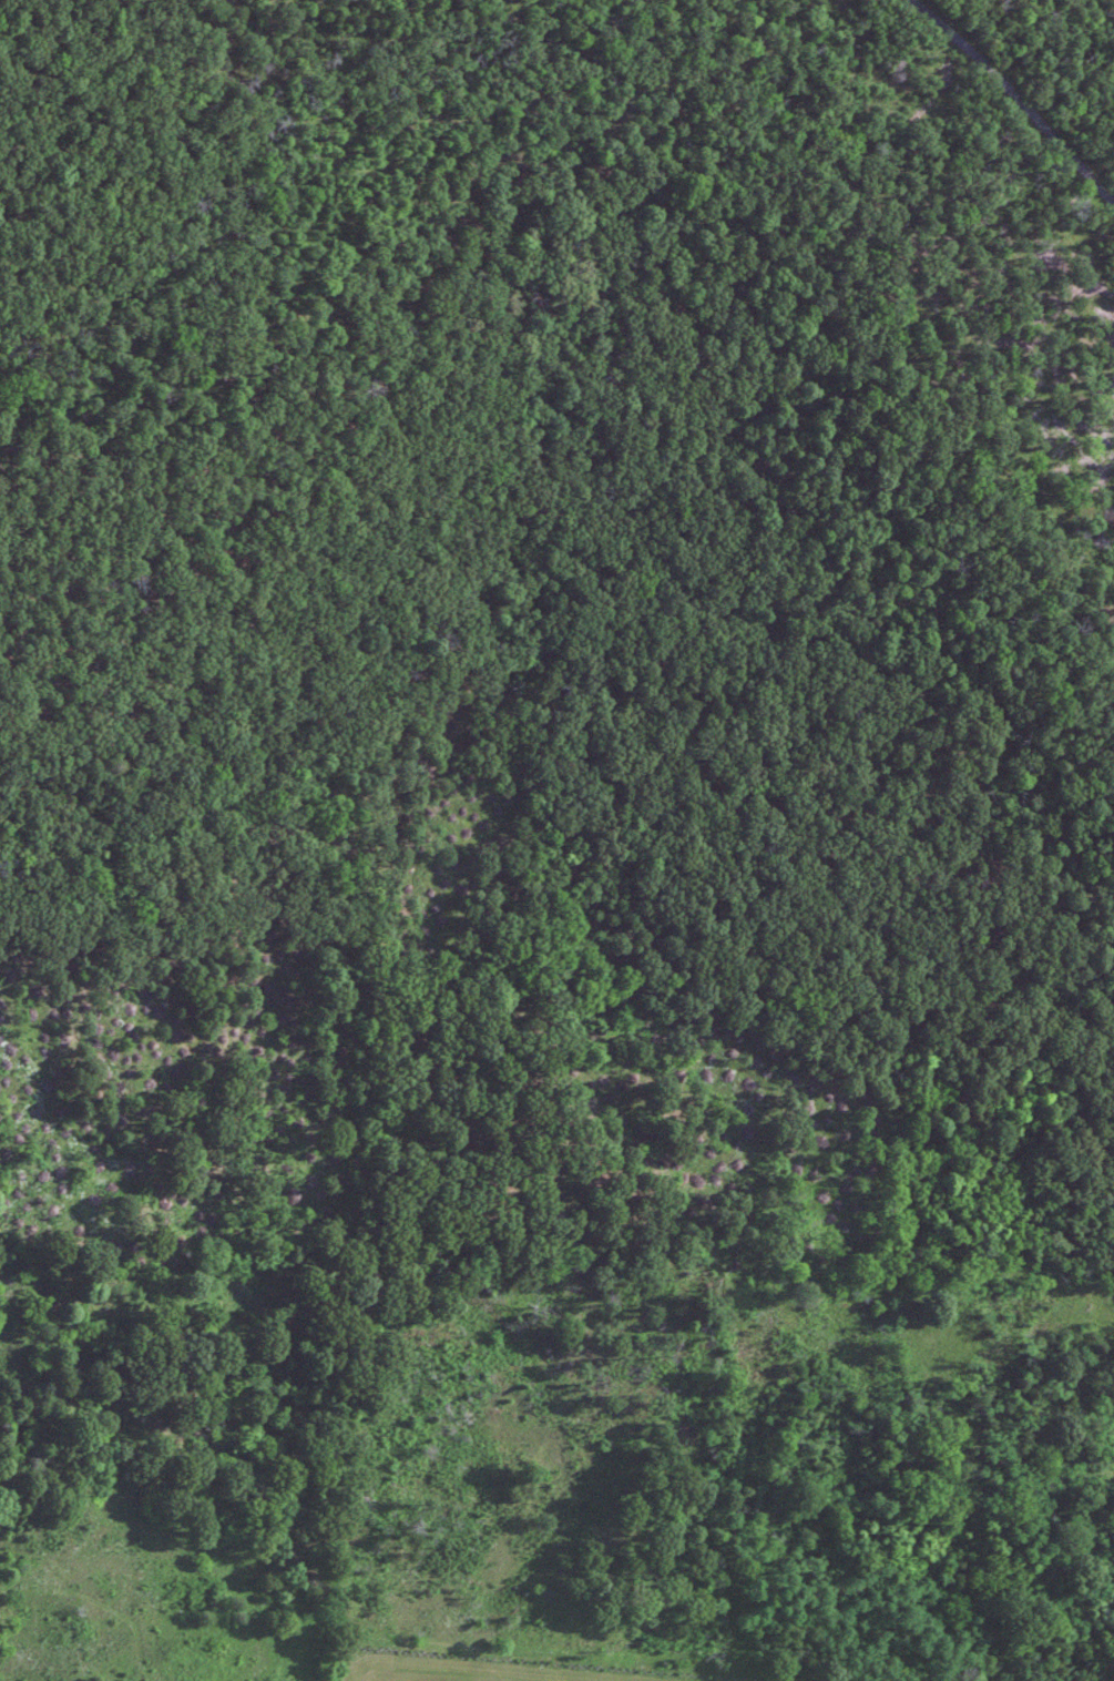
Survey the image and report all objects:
road: (1014, 98)

